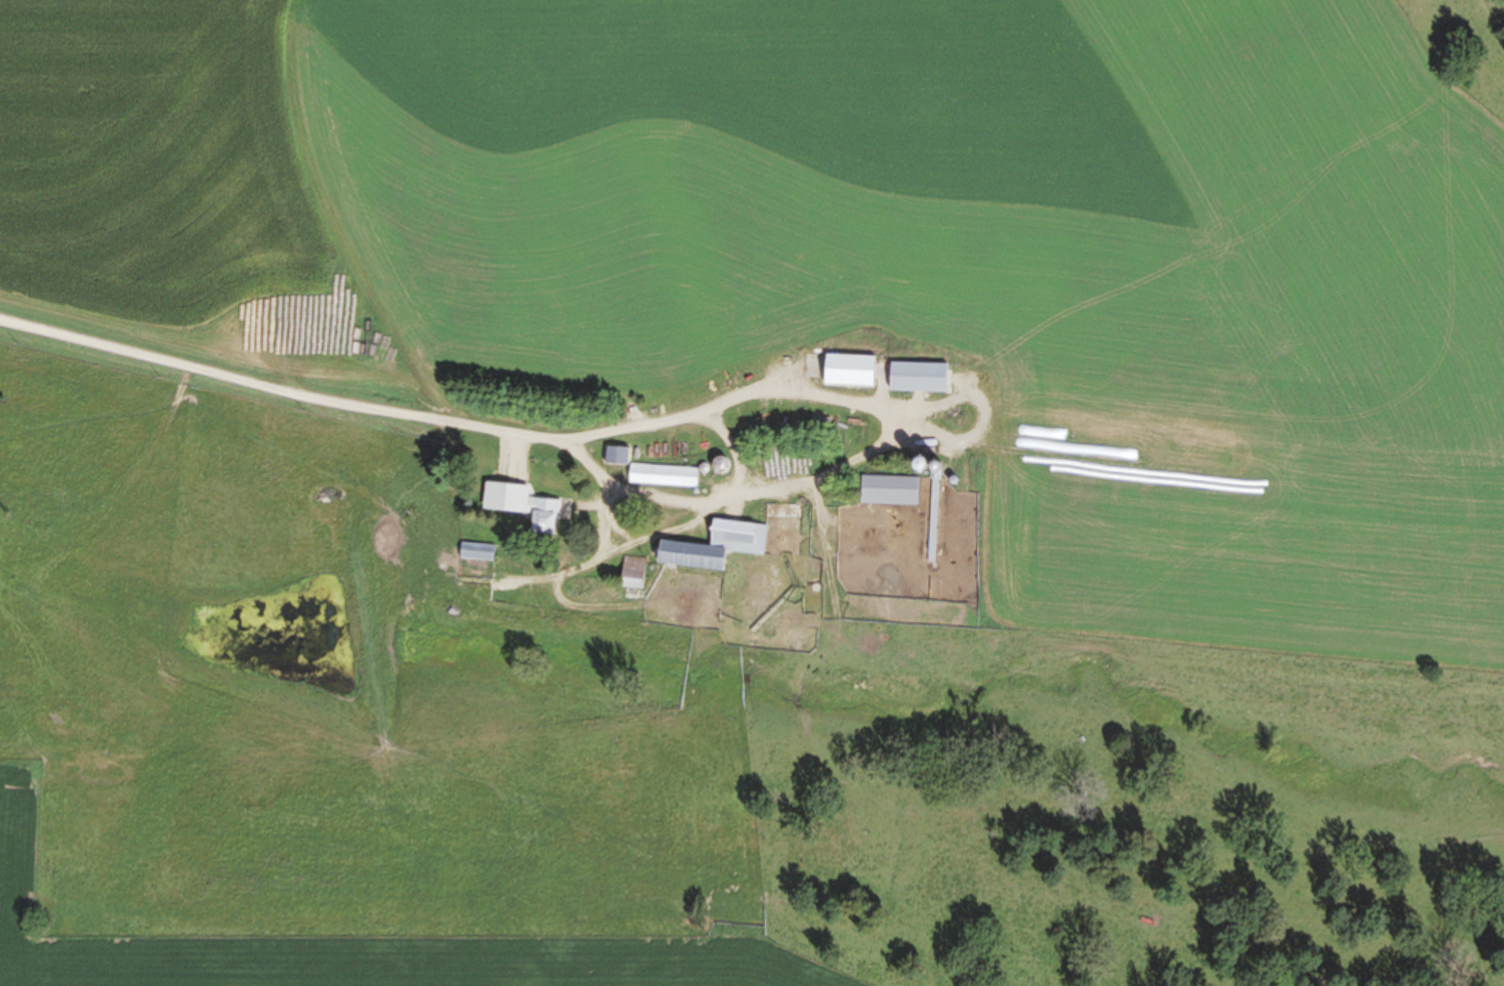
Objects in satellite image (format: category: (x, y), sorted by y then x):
building: (852, 370)
building: (920, 377)
road: (261, 382)
road: (814, 394)
building: (617, 457)
building: (665, 476)
road: (794, 484)
building: (891, 491)
road: (653, 494)
road: (607, 515)
building: (547, 517)
road: (626, 546)
building: (718, 547)
building: (478, 552)
building: (635, 574)

